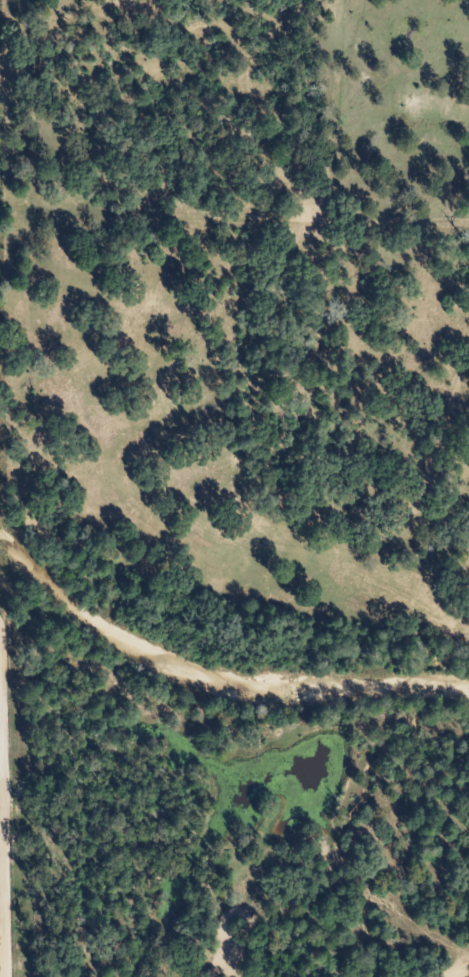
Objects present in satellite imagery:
road: (234, 222)

